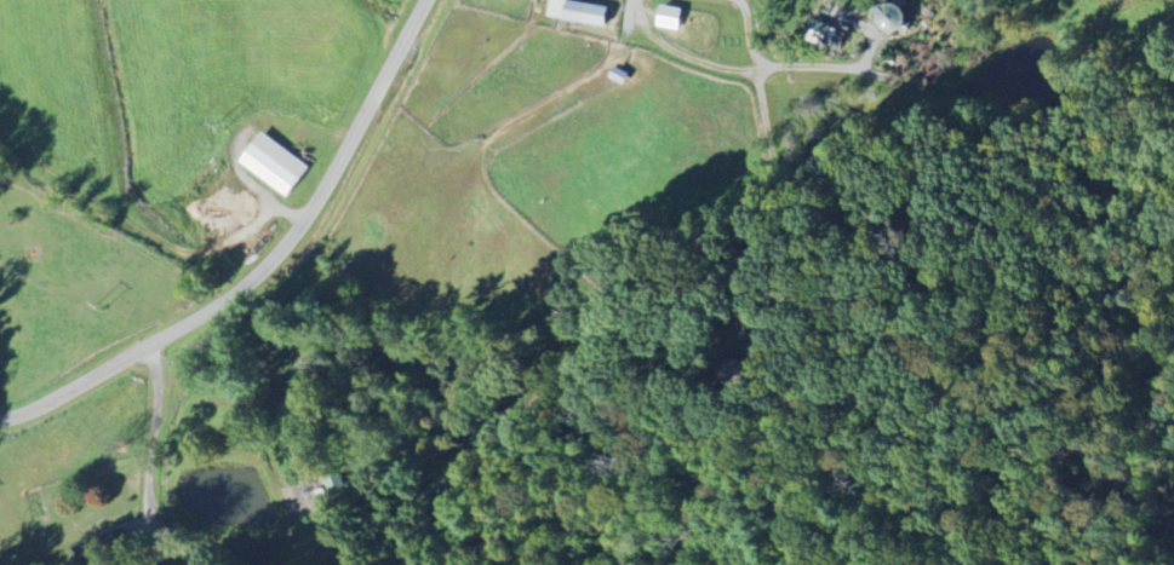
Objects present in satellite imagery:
building: (575, 12)
building: (668, 17)
building: (817, 31)
road: (745, 74)
building: (271, 165)
road: (265, 264)
power tower: (107, 304)
road: (151, 436)
building: (99, 549)

